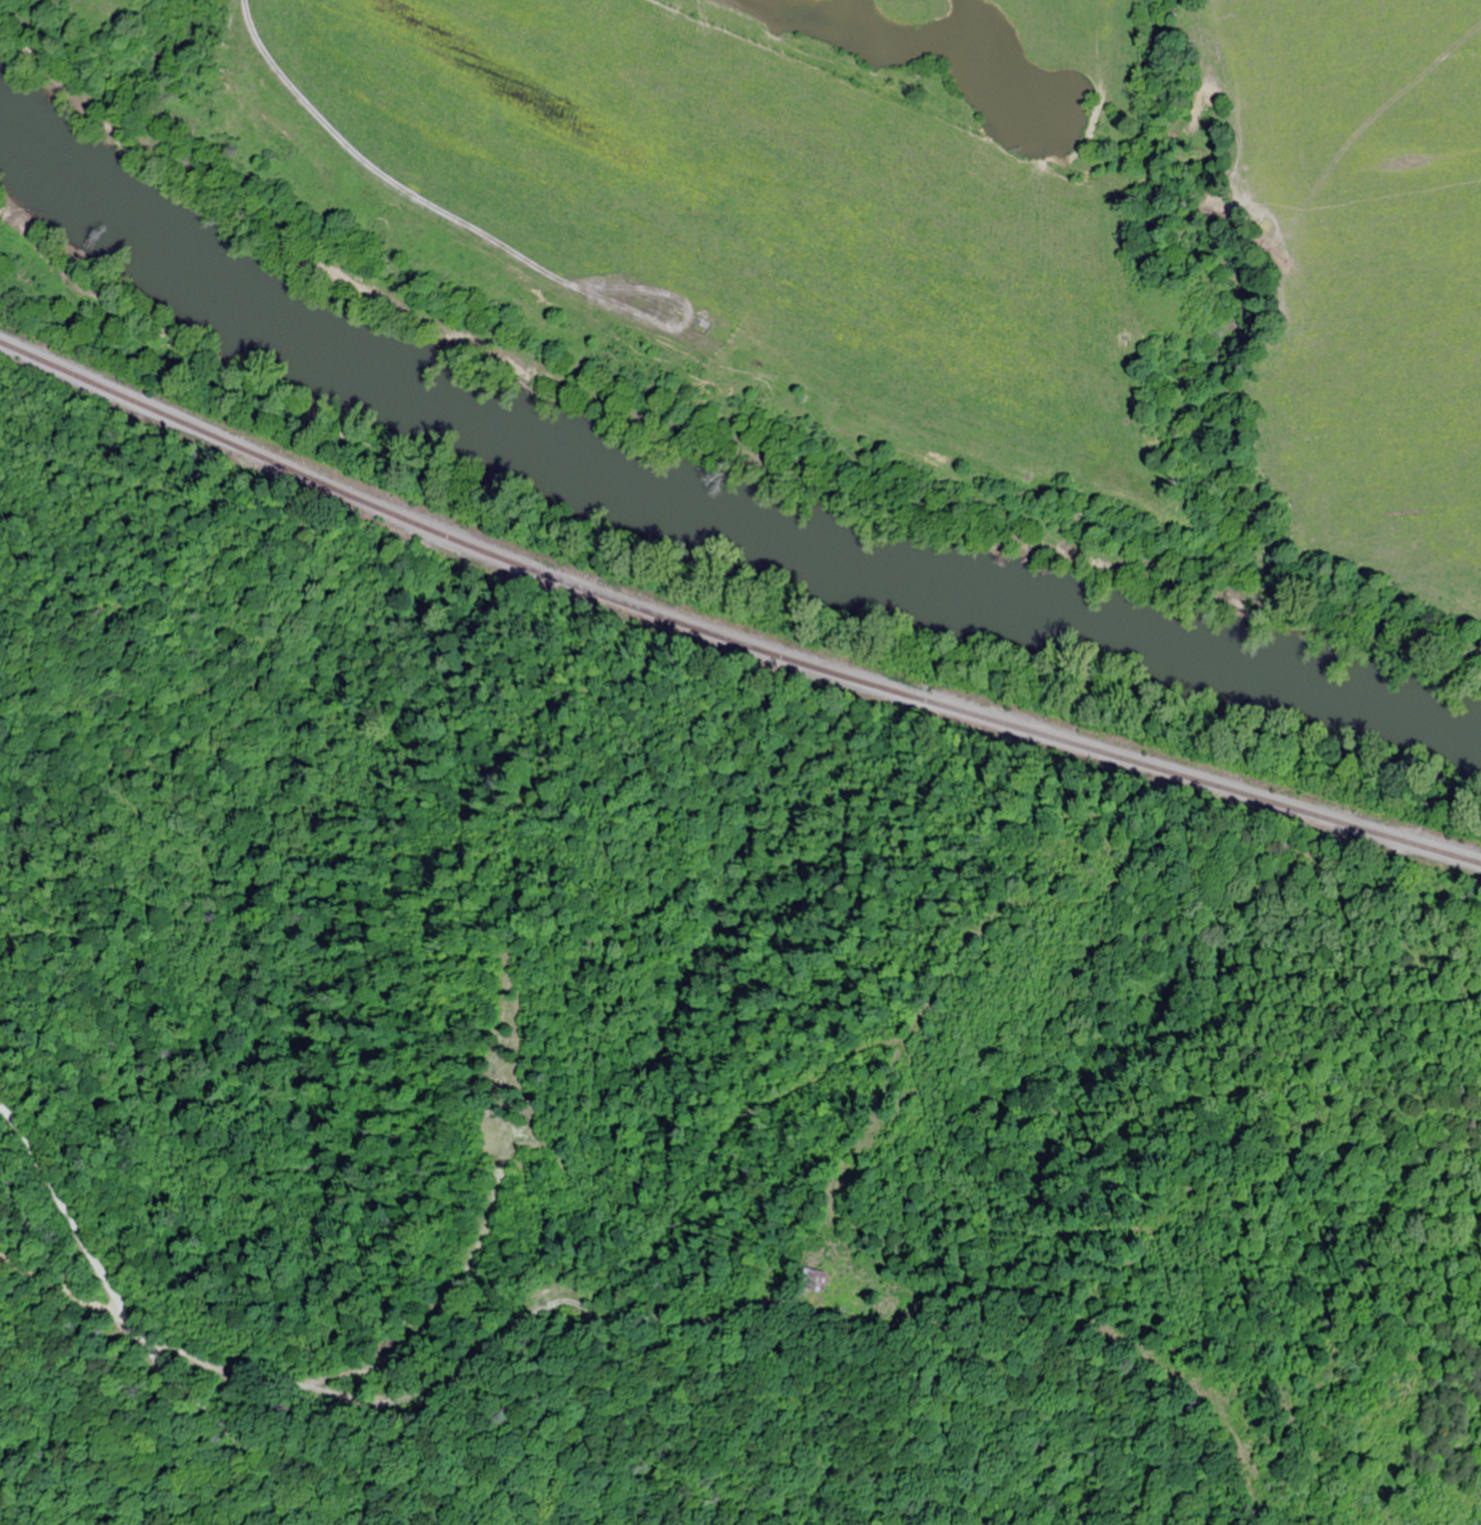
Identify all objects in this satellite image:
river: (703, 481)
railway: (730, 632)
road: (42, 1251)
building: (811, 1280)
road: (143, 1334)

